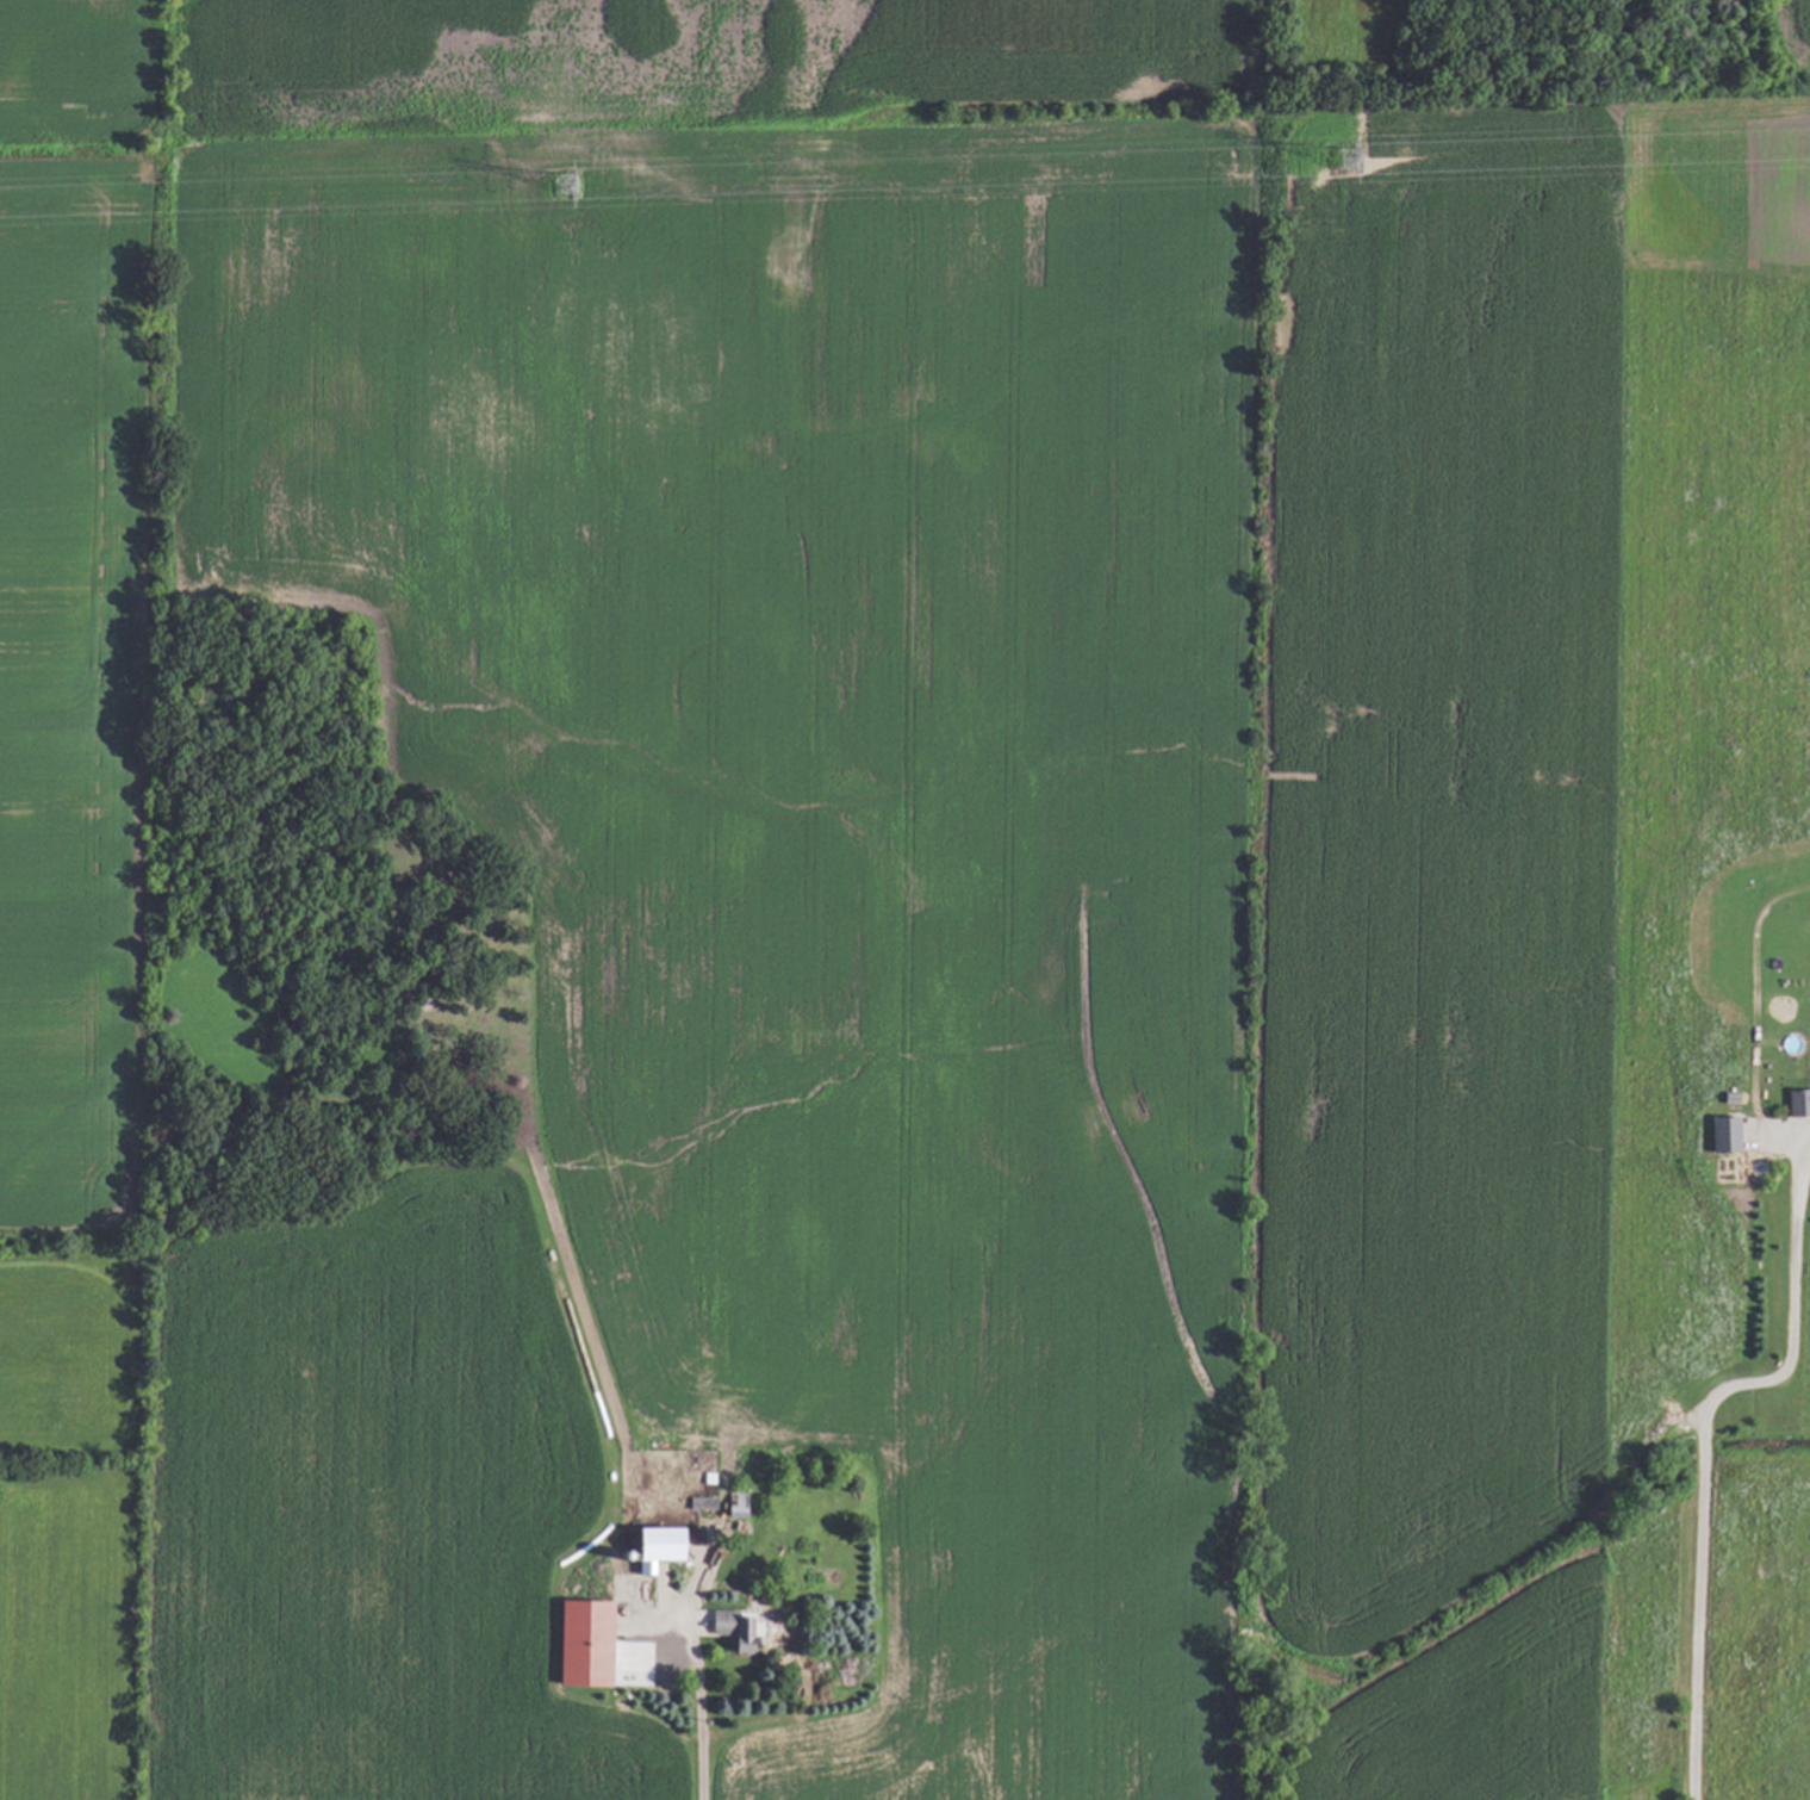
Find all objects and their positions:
power tower: (1335, 169)
power tower: (556, 197)
crop: (808, 899)
building: (1797, 1099)
building: (1722, 1132)
road: (1699, 1436)
building: (698, 1502)
building: (734, 1504)
building: (649, 1545)
building: (729, 1628)
building: (578, 1641)
road: (698, 1699)

